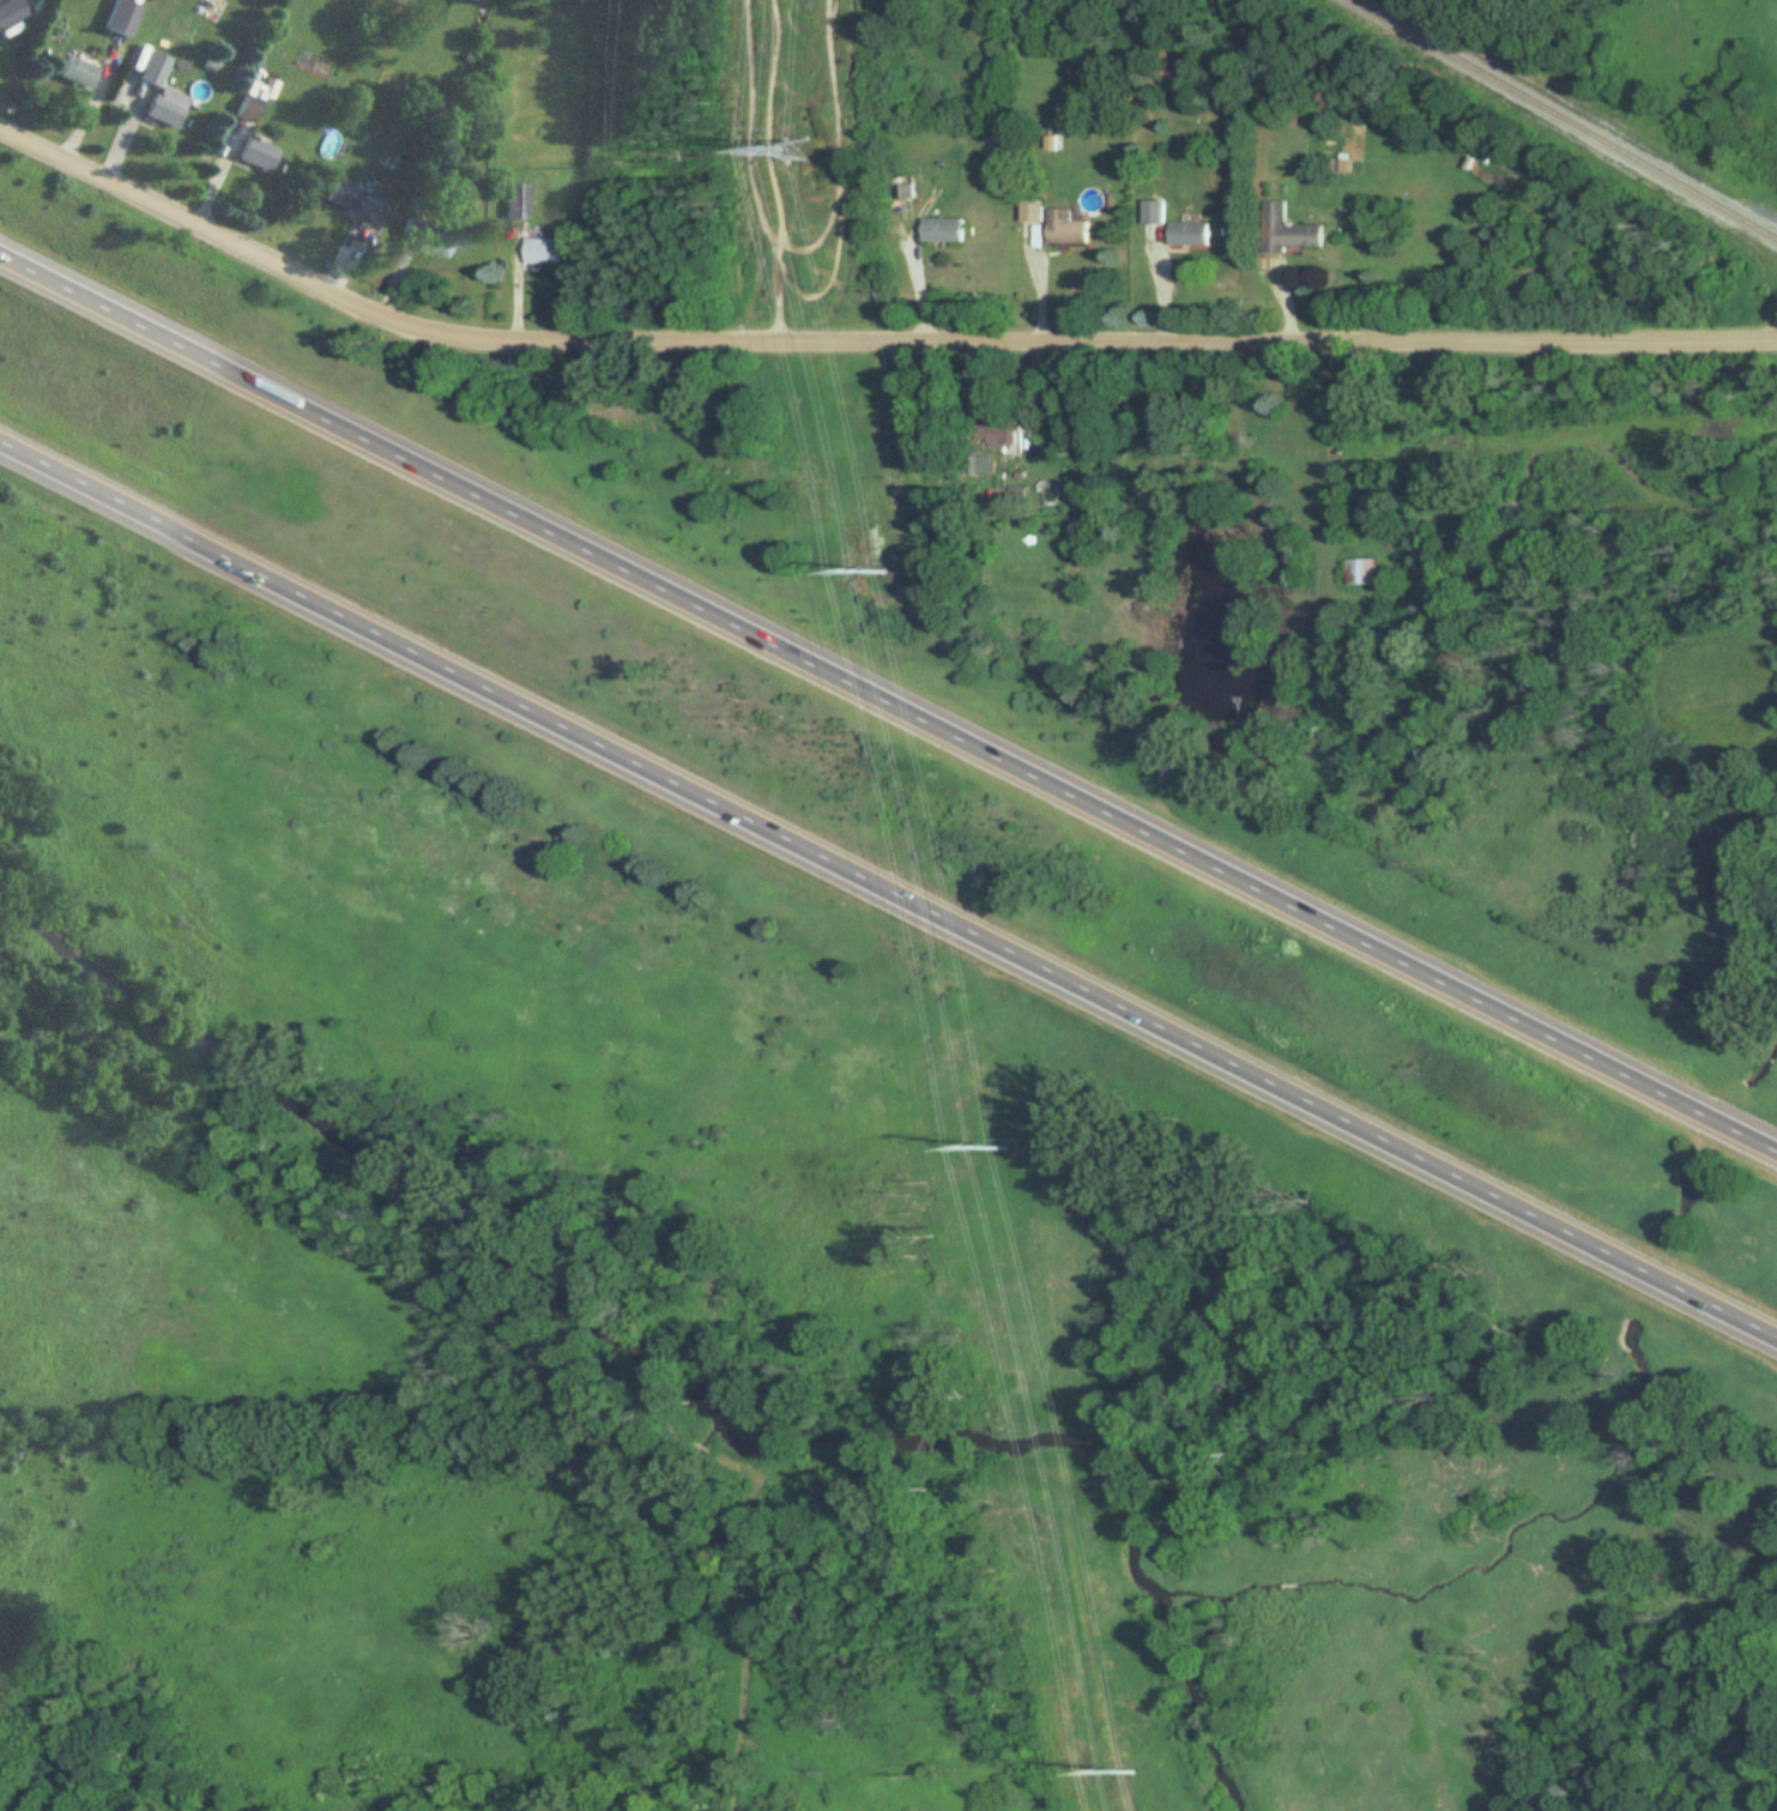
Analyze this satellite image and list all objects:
building: (122, 18)
building: (77, 72)
road: (85, 101)
building: (249, 109)
building: (163, 111)
railway: (1570, 119)
power tower: (799, 151)
building: (259, 153)
road: (212, 175)
building: (908, 191)
building: (352, 199)
building: (518, 200)
building: (1034, 211)
building: (1154, 212)
building: (1066, 228)
building: (943, 230)
building: (1287, 231)
building: (1189, 234)
building: (436, 239)
building: (548, 249)
road: (1040, 278)
road: (865, 336)
building: (995, 435)
building: (972, 466)
building: (1050, 494)
power tower: (888, 572)
building: (1361, 572)
road: (889, 698)
road: (887, 894)
power tower: (1008, 1147)
building: (1692, 1197)
power tower: (1132, 1768)

